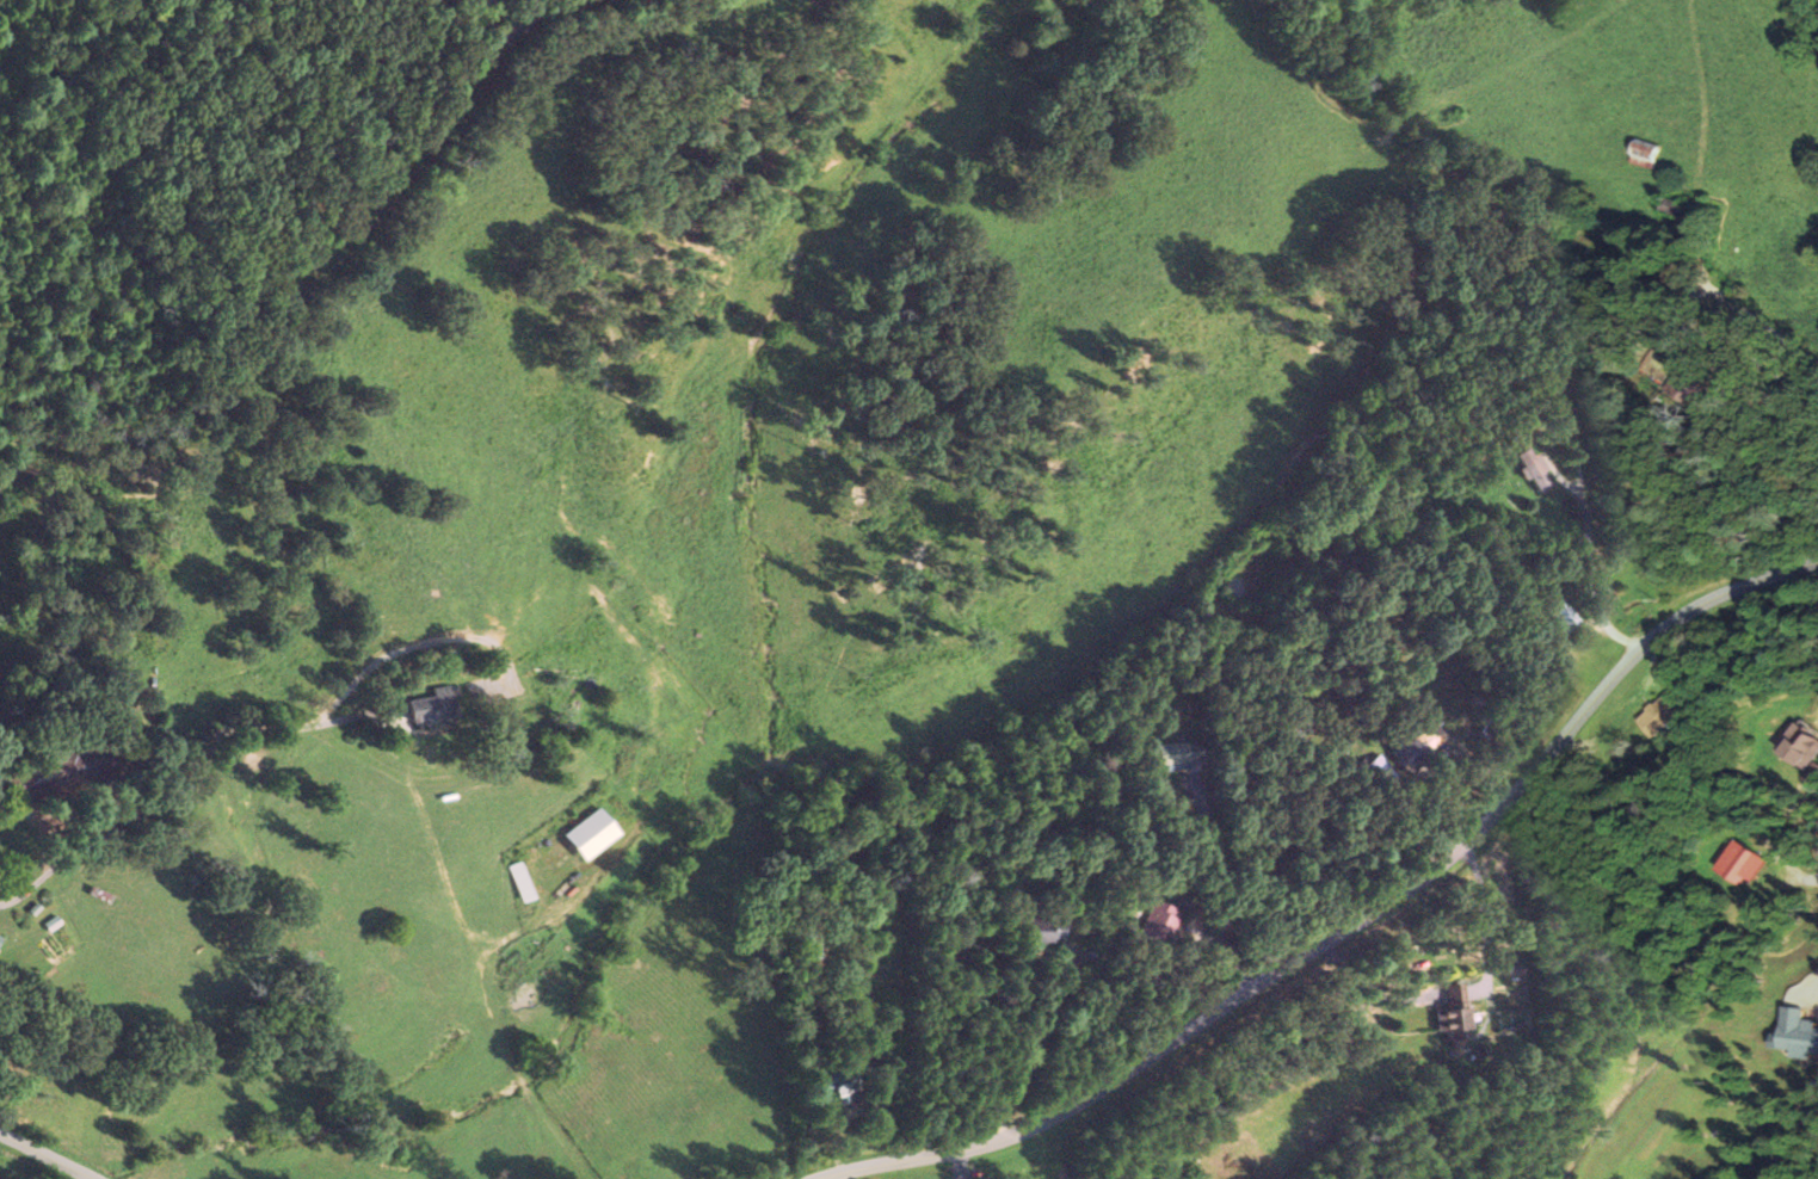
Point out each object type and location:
road: (457, 93)
building: (1651, 154)
building: (1701, 379)
building: (1537, 474)
building: (429, 705)
building: (1666, 714)
building: (1419, 746)
building: (1797, 747)
building: (1181, 754)
road: (368, 757)
building: (72, 767)
building: (1811, 772)
building: (585, 835)
building: (1737, 864)
road: (1787, 899)
road: (950, 905)
road: (1346, 928)
building: (1456, 1013)
building: (1794, 1033)
building: (846, 1086)
road: (51, 1152)

